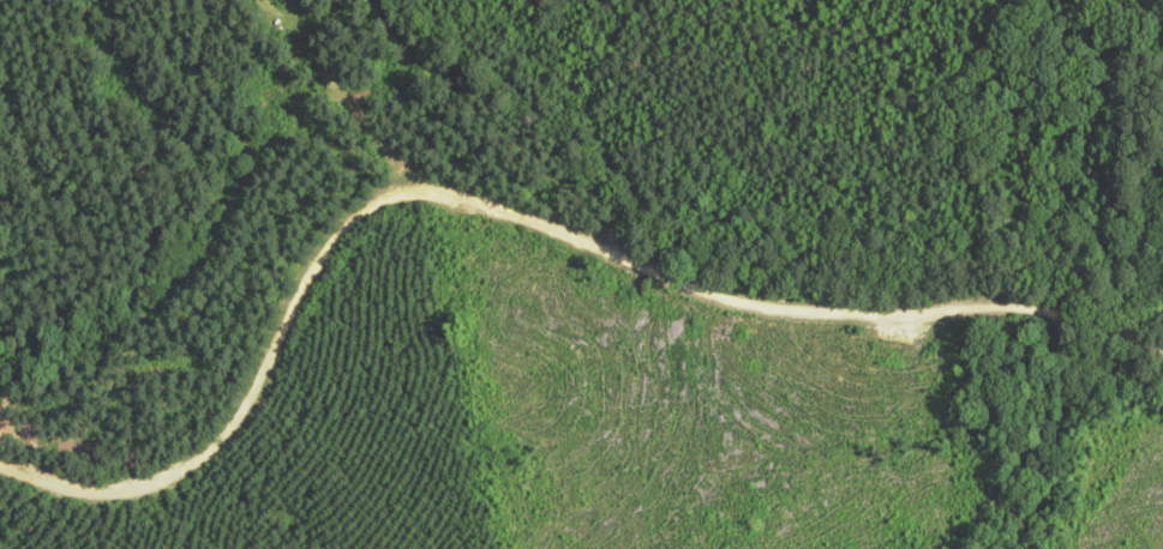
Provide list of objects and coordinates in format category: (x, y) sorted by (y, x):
road: (810, 252)

